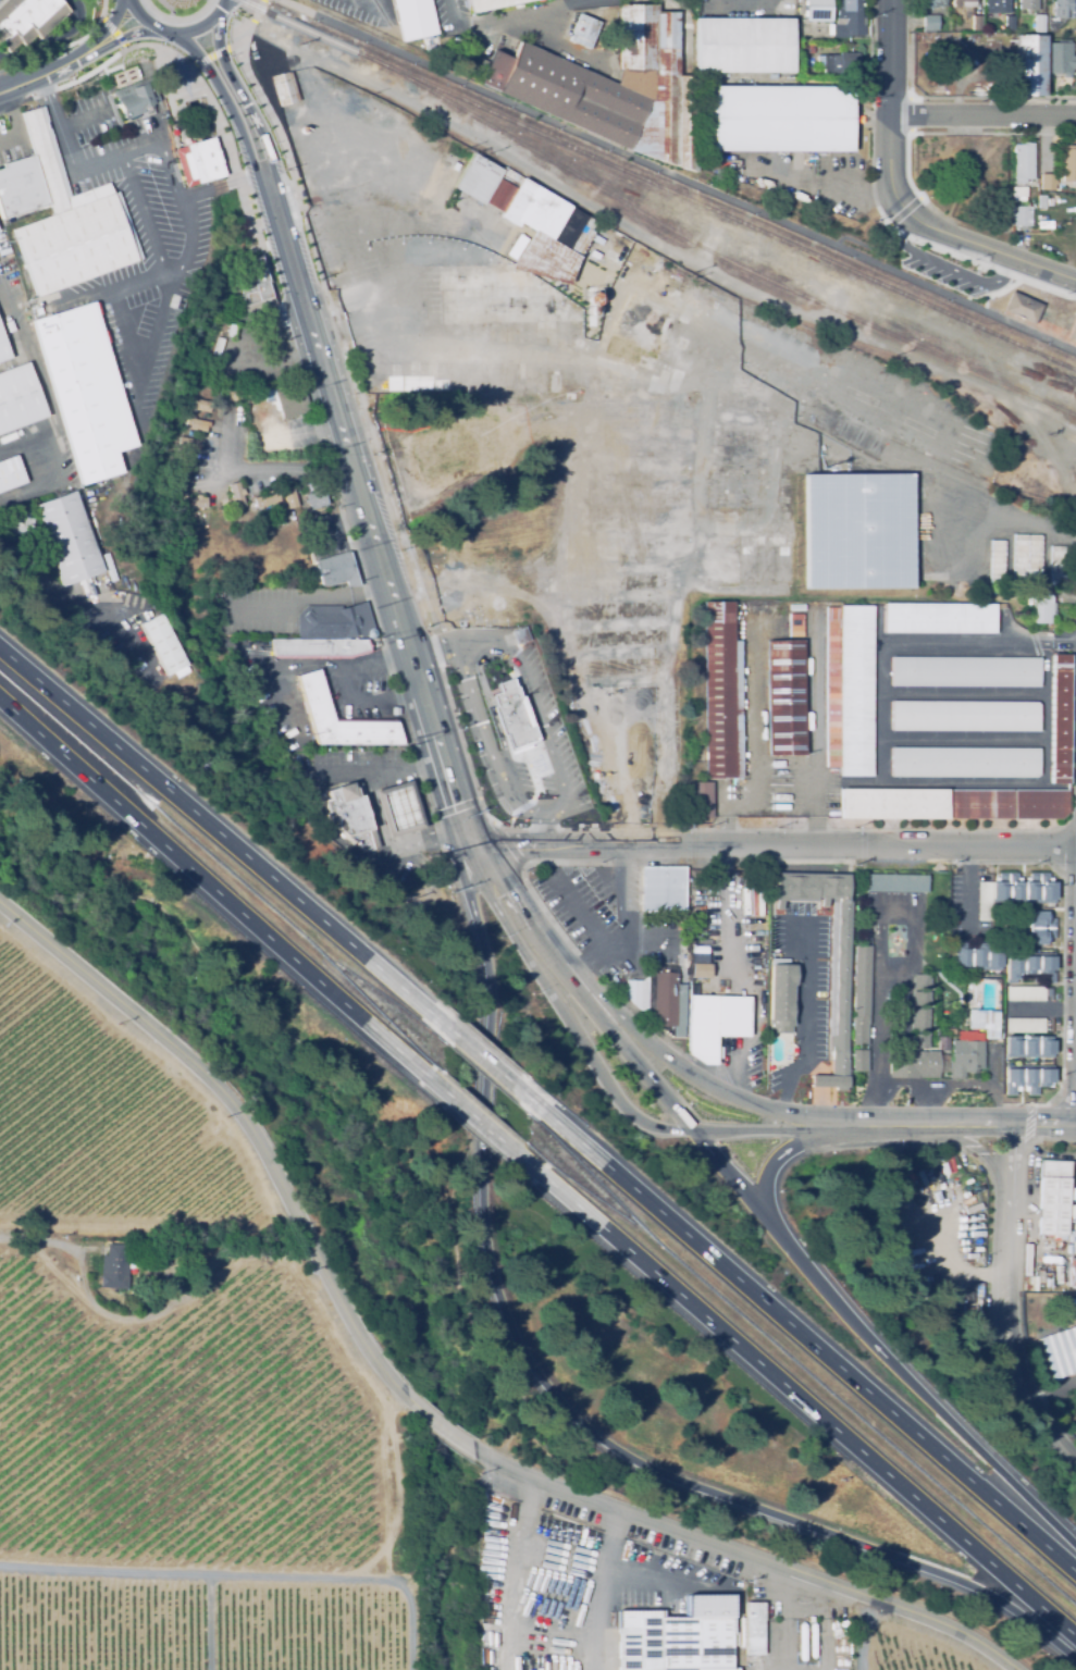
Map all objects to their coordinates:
road: (585, 0)
road: (589, 0)
building: (693, 2)
building: (963, 2)
road: (224, 3)
building: (931, 3)
building: (492, 4)
building: (1027, 4)
building: (995, 5)
building: (1064, 9)
building: (815, 11)
road: (509, 15)
building: (413, 17)
building: (848, 20)
building: (27, 22)
building: (929, 23)
building: (976, 23)
building: (1009, 24)
building: (1039, 24)
building: (829, 26)
road: (106, 27)
road: (176, 32)
building: (583, 32)
road: (123, 36)
building: (433, 45)
building: (744, 47)
building: (805, 48)
building: (1058, 57)
road: (890, 58)
building: (1075, 60)
building: (841, 64)
building: (1026, 65)
road: (42, 74)
building: (126, 76)
building: (284, 88)
road: (238, 90)
building: (565, 94)
road: (222, 95)
building: (135, 99)
road: (982, 115)
road: (84, 119)
building: (778, 120)
road: (15, 124)
building: (198, 160)
building: (1023, 162)
building: (1069, 164)
road: (74, 171)
road: (677, 175)
building: (1047, 182)
railway: (657, 185)
road: (205, 188)
building: (1018, 194)
building: (1041, 201)
road: (148, 208)
building: (1022, 215)
building: (61, 217)
building: (1044, 224)
road: (338, 225)
road: (941, 233)
building: (319, 239)
building: (638, 247)
railway: (714, 252)
road: (441, 256)
building: (524, 256)
railway: (851, 256)
road: (947, 265)
building: (256, 286)
building: (351, 297)
building: (1023, 308)
building: (231, 331)
building: (639, 333)
building: (1073, 334)
building: (219, 346)
building: (3, 350)
building: (467, 379)
building: (83, 389)
building: (568, 395)
building: (234, 396)
building: (18, 399)
building: (290, 401)
building: (203, 406)
building: (196, 424)
building: (851, 432)
building: (740, 438)
road: (950, 440)
building: (188, 444)
building: (456, 446)
road: (49, 470)
building: (184, 470)
building: (10, 474)
building: (733, 491)
railway: (1030, 492)
building: (236, 495)
building: (316, 496)
building: (177, 499)
building: (267, 499)
building: (290, 499)
building: (198, 503)
road: (366, 511)
road: (690, 521)
building: (858, 533)
building: (69, 541)
building: (1028, 560)
building: (752, 561)
building: (998, 564)
building: (1058, 566)
building: (336, 570)
road: (308, 604)
building: (1038, 607)
building: (940, 618)
building: (334, 622)
building: (795, 624)
building: (376, 643)
building: (162, 645)
building: (318, 646)
road: (883, 657)
road: (309, 666)
building: (966, 671)
building: (833, 686)
road: (667, 691)
building: (857, 691)
building: (722, 693)
road: (965, 693)
road: (533, 695)
road: (815, 695)
building: (786, 697)
building: (314, 700)
road: (364, 702)
building: (514, 715)
building: (966, 716)
building: (1061, 720)
road: (965, 737)
road: (488, 744)
building: (966, 762)
road: (382, 767)
road: (1024, 782)
road: (733, 794)
road: (814, 794)
building: (701, 800)
gas station: (371, 801)
building: (894, 803)
building: (981, 804)
building: (1042, 804)
building: (399, 808)
building: (351, 815)
road: (218, 832)
road: (393, 845)
road: (775, 849)
traffic signals: (475, 851)
building: (702, 883)
building: (896, 883)
road: (626, 887)
building: (663, 889)
road: (967, 891)
building: (1014, 891)
road: (217, 892)
road: (508, 901)
road: (591, 928)
building: (1039, 928)
building: (997, 936)
road: (617, 937)
road: (877, 956)
building: (975, 957)
building: (1030, 967)
road: (561, 968)
building: (701, 970)
building: (840, 973)
building: (920, 980)
building: (635, 991)
building: (1050, 992)
building: (1026, 993)
building: (863, 994)
building: (919, 997)
building: (663, 998)
building: (781, 998)
road: (806, 1022)
building: (987, 1023)
building: (715, 1024)
building: (1026, 1025)
building: (919, 1027)
building: (952, 1030)
building: (944, 1043)
building: (1031, 1047)
building: (967, 1054)
building: (861, 1060)
road: (633, 1061)
building: (914, 1064)
road: (594, 1065)
road: (490, 1067)
building: (1027, 1078)
road: (700, 1081)
road: (954, 1085)
road: (944, 1125)
road: (1044, 1125)
road: (859, 1127)
road: (767, 1129)
road: (488, 1130)
road: (776, 1156)
road: (269, 1159)
road: (731, 1178)
building: (1053, 1198)
building: (114, 1267)
road: (954, 1267)
building: (1072, 1272)
building: (1027, 1282)
road: (1010, 1299)
building: (1071, 1302)
road: (147, 1309)
road: (811, 1343)
building: (1061, 1351)
road: (920, 1391)
road: (564, 1402)
road: (808, 1406)
road: (753, 1556)
road: (512, 1572)
road: (658, 1580)
road: (608, 1589)
road: (783, 1618)
building: (811, 1619)
road: (824, 1625)
building: (754, 1629)
road: (866, 1634)
building: (678, 1636)

